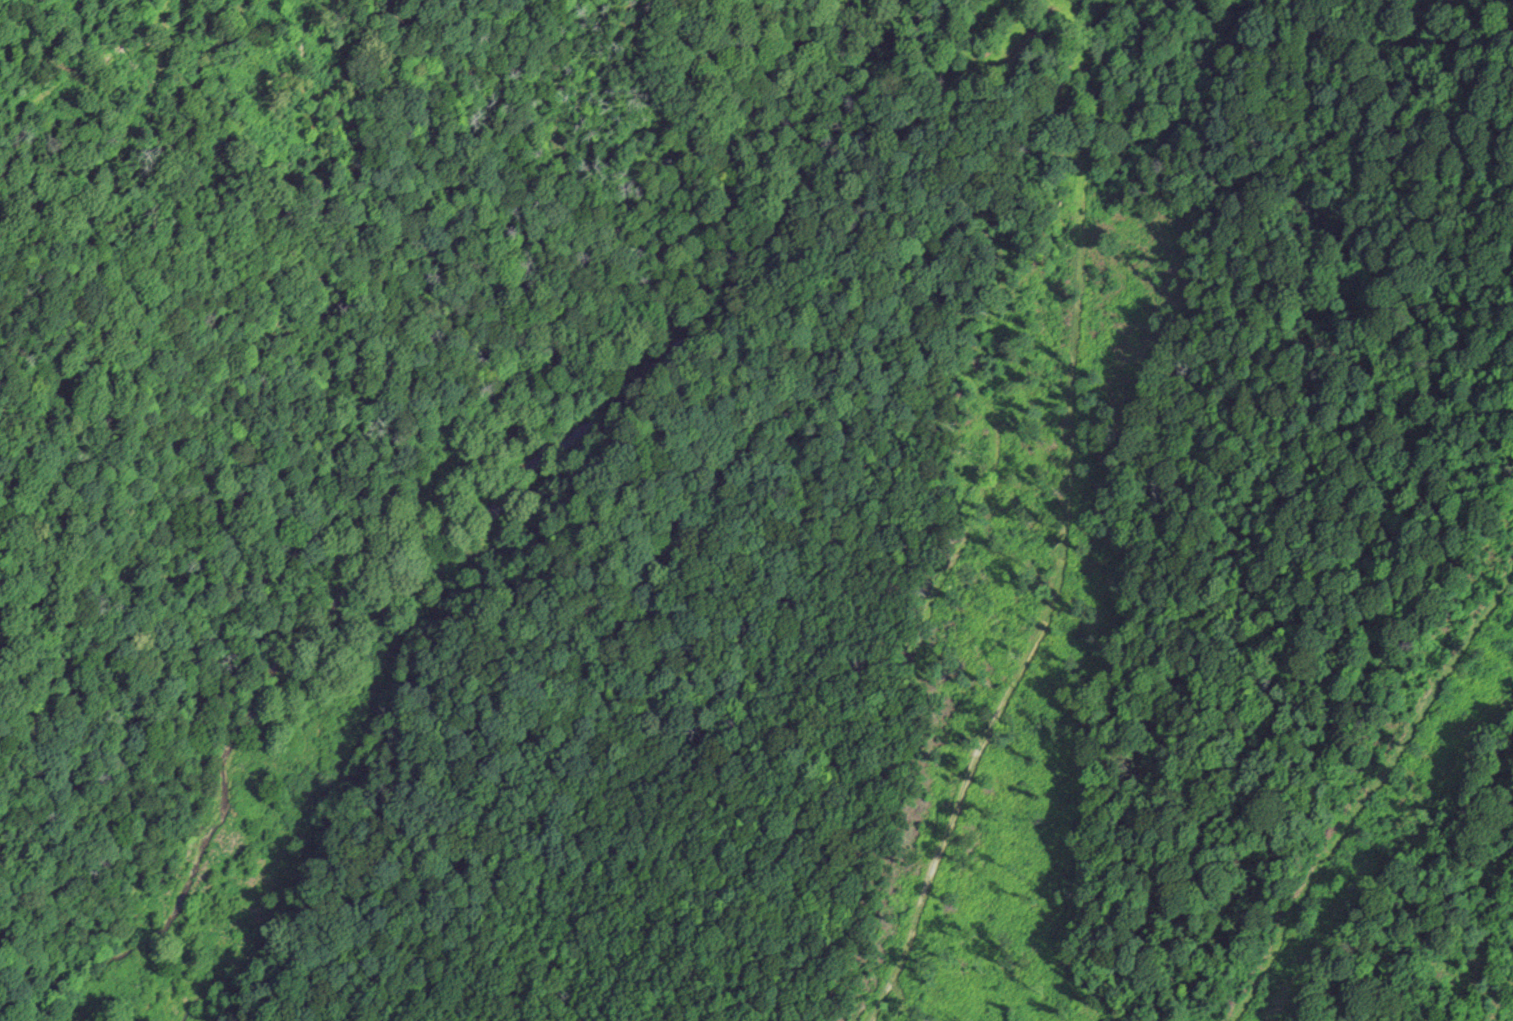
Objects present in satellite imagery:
road: (479, 834)

